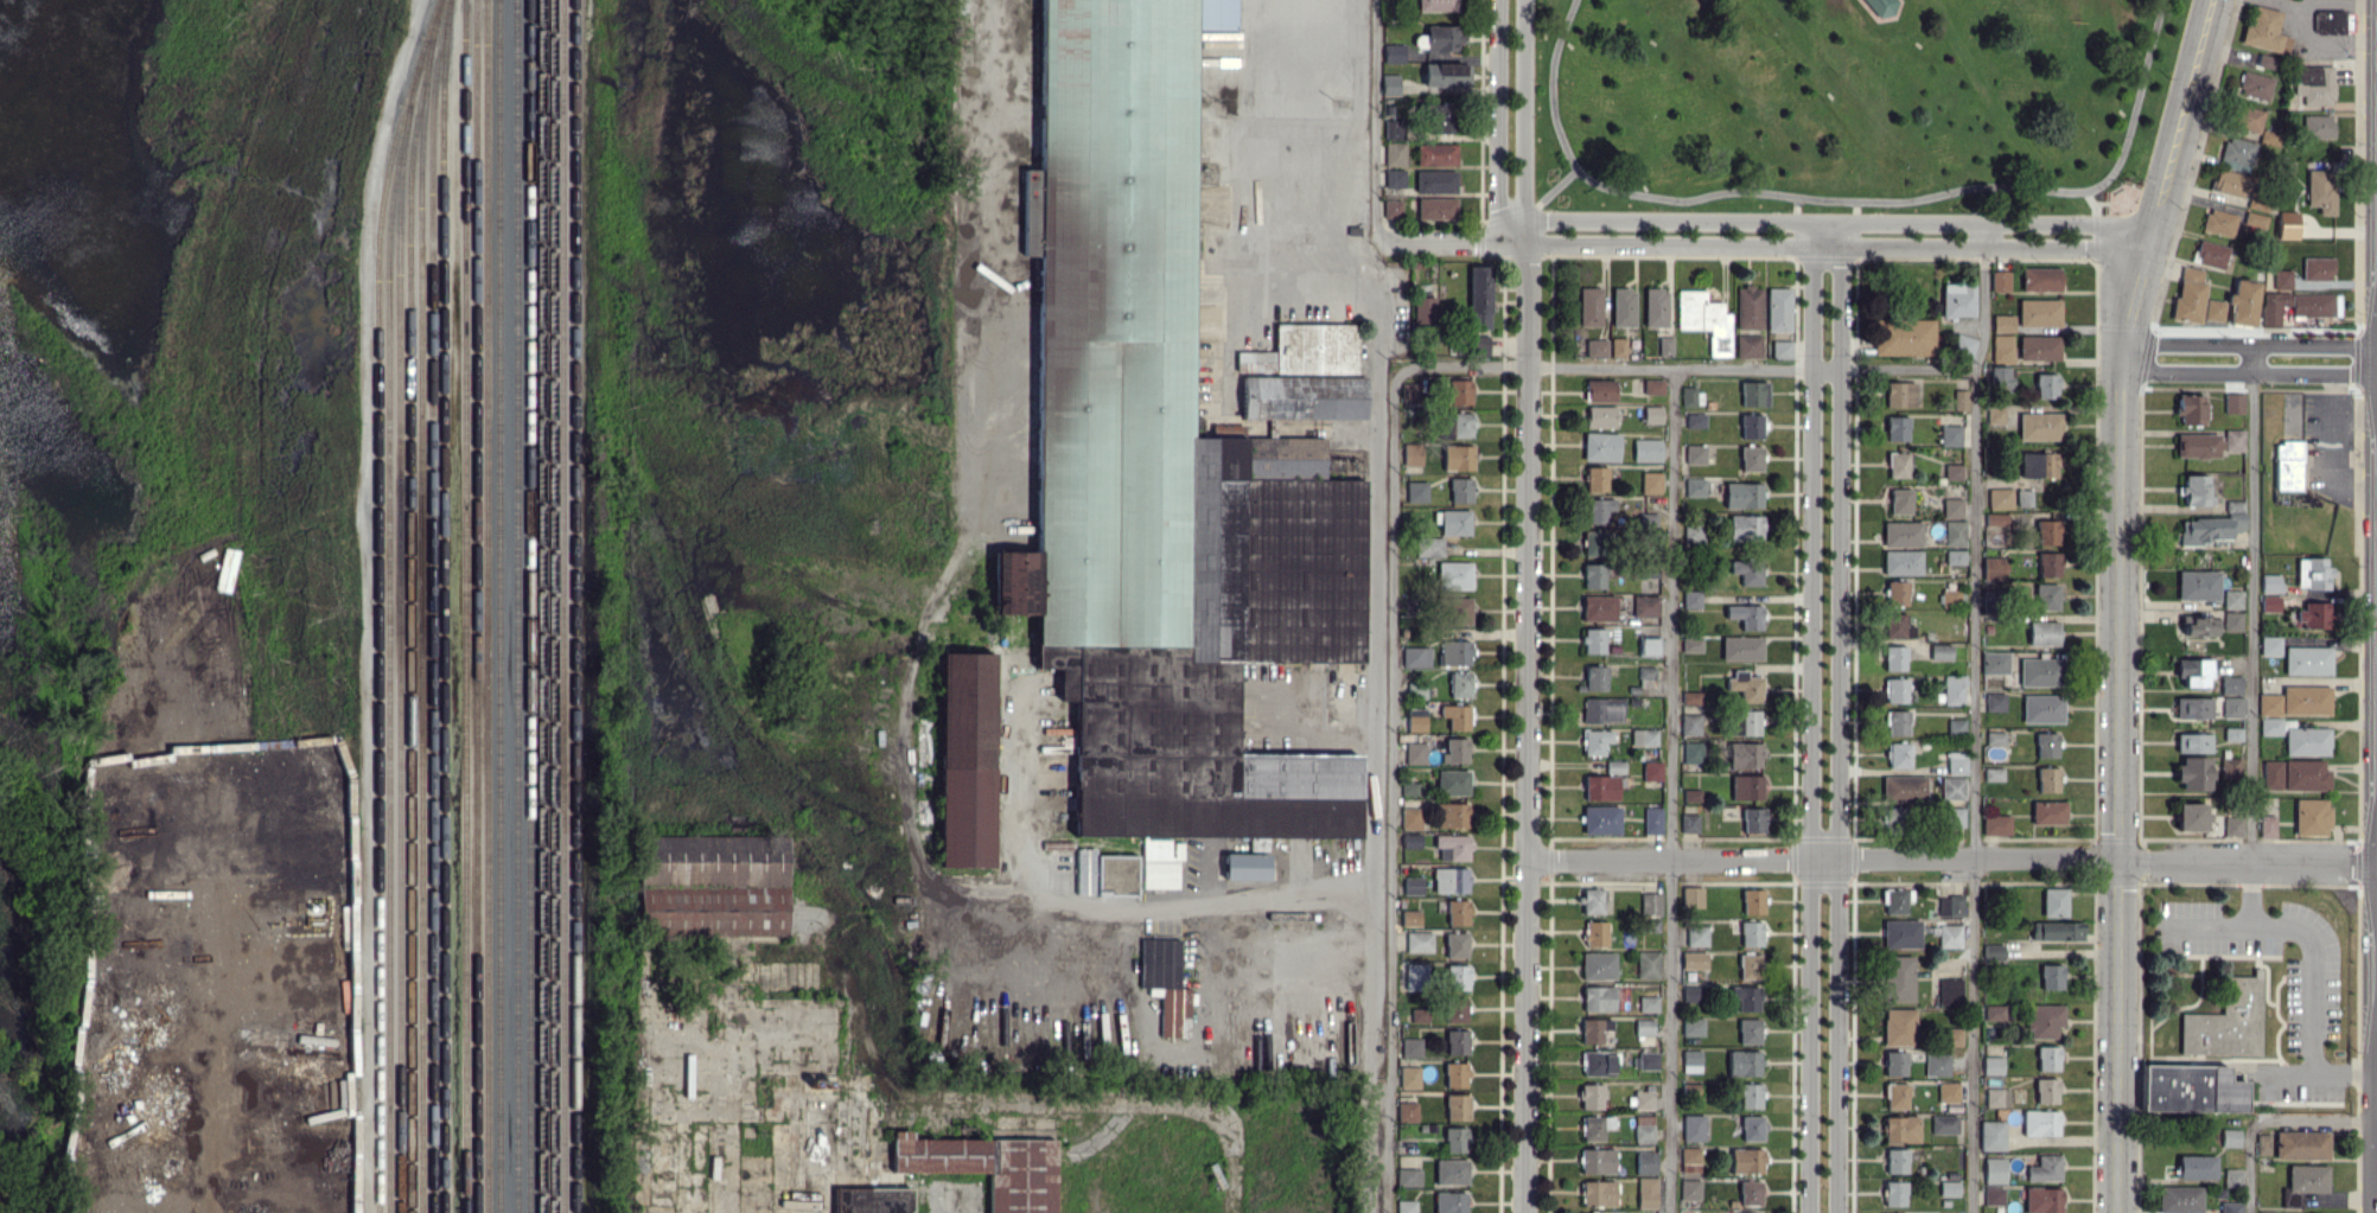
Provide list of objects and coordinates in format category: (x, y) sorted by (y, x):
road: (2326, 4)
building: (1436, 5)
building: (1882, 6)
railway: (432, 19)
railway: (434, 19)
building: (2332, 21)
building: (2264, 31)
building: (1442, 37)
road: (2324, 37)
building: (1393, 53)
building: (2266, 60)
building: (1446, 74)
building: (1389, 84)
building: (2315, 84)
building: (2255, 85)
park: (1853, 102)
road: (2136, 102)
road: (1555, 110)
building: (1440, 117)
road: (1524, 117)
building: (2247, 117)
road: (1498, 119)
road: (1376, 120)
building: (2318, 126)
building: (1394, 129)
building: (2268, 136)
building: (2236, 153)
building: (1394, 154)
building: (1435, 154)
building: (1394, 178)
building: (1435, 181)
building: (2229, 183)
flagpole: (2121, 185)
road: (2165, 186)
flagpole: (2115, 187)
flagpole: (2109, 190)
building: (2320, 190)
road: (1827, 196)
road: (2091, 200)
building: (1391, 208)
building: (1435, 208)
building: (2255, 219)
building: (2218, 222)
building: (2287, 224)
road: (1764, 234)
road: (994, 244)
building: (2317, 268)
building: (2040, 279)
building: (1999, 280)
building: (2277, 280)
building: (2188, 294)
building: (1478, 295)
building: (1957, 300)
building: (2243, 302)
building: (2315, 304)
building: (1588, 306)
building: (2274, 306)
building: (1623, 307)
building: (1655, 307)
building: (1748, 307)
building: (1778, 308)
building: (1423, 309)
building: (2213, 309)
building: (2038, 312)
building: (1703, 319)
building: (2002, 323)
building: (1903, 337)
building: (1474, 344)
building: (1963, 344)
building: (1747, 345)
road: (2249, 345)
building: (1617, 346)
building: (1664, 346)
building: (1595, 347)
building: (2001, 347)
building: (2038, 347)
building: (1780, 349)
building: (1304, 350)
road: (1917, 368)
road: (1602, 369)
road: (2248, 374)
building: (1999, 376)
building: (1652, 385)
building: (2045, 385)
building: (1599, 390)
building: (1459, 391)
building: (1409, 394)
building: (1753, 394)
building: (1899, 394)
building: (1688, 396)
building: (1302, 397)
building: (1959, 398)
building: (2233, 402)
building: (2190, 409)
building: (1652, 414)
building: (1994, 415)
building: (1599, 416)
building: (1694, 420)
building: (1750, 426)
building: (2039, 426)
building: (1895, 428)
building: (1950, 435)
building: (2233, 439)
road: (1370, 441)
building: (2197, 445)
building: (1600, 446)
building: (1646, 449)
building: (1411, 453)
building: (1695, 454)
building: (1457, 457)
building: (1750, 458)
building: (2037, 464)
building: (1897, 465)
building: (2287, 465)
building: (1954, 471)
building: (1161, 474)
building: (1595, 478)
building: (1650, 481)
building: (1694, 486)
building: (1459, 490)
building: (1415, 491)
building: (2194, 491)
building: (1742, 494)
building: (2022, 497)
building: (2000, 498)
building: (1900, 500)
building: (1951, 507)
building: (1597, 509)
building: (1646, 518)
building: (1995, 519)
building: (1453, 522)
building: (2212, 525)
building: (1745, 528)
building: (2047, 530)
building: (1954, 532)
building: (1691, 534)
building: (1901, 534)
building: (1594, 543)
building: (1428, 545)
building: (1955, 556)
building: (1900, 562)
building: (2047, 563)
building: (1993, 568)
building: (1746, 570)
building: (2312, 573)
building: (1453, 575)
building: (1593, 575)
building: (2270, 582)
building: (2197, 585)
building: (1895, 593)
building: (2046, 596)
building: (1690, 599)
building: (2232, 599)
building: (2269, 604)
railway: (431, 605)
building: (1645, 605)
railway: (444, 606)
railway: (464, 606)
railway: (476, 606)
railway: (486, 606)
railway: (498, 606)
railway: (516, 606)
railway: (528, 606)
railway: (541, 606)
railway: (550, 606)
railway: (563, 606)
railway: (574, 606)
building: (1598, 608)
road: (2251, 608)
building: (1457, 611)
building: (1745, 615)
building: (2313, 617)
building: (2231, 620)
railway: (377, 623)
railway: (400, 624)
railway: (410, 625)
railway: (421, 625)
building: (2197, 625)
building: (1895, 626)
building: (2043, 633)
building: (1593, 640)
building: (1691, 644)
building: (1649, 645)
building: (2269, 645)
building: (1741, 647)
building: (1939, 651)
building: (1454, 652)
building: (1415, 656)
railway: (388, 657)
building: (1893, 657)
building: (2307, 660)
building: (1994, 662)
building: (2039, 671)
building: (2192, 671)
building: (1645, 676)
building: (1459, 684)
building: (2231, 684)
building: (1745, 685)
building: (1952, 689)
building: (1894, 690)
building: (1690, 697)
building: (2305, 700)
building: (1994, 702)
building: (2268, 704)
building: (2231, 707)
building: (2041, 708)
building: (2192, 708)
building: (1601, 709)
building: (1455, 715)
building: (1415, 719)
building: (1689, 720)
road: (1315, 721)
building: (1748, 722)
building: (1895, 722)
road: (1523, 723)
road: (1805, 723)
road: (1844, 723)
road: (1984, 723)
building: (1956, 726)
building: (2269, 726)
building: (2232, 733)
building: (1643, 736)
building: (1994, 736)
building: (1054, 739)
building: (2305, 740)
building: (1594, 741)
building: (2192, 742)
building: (2045, 745)
building: (1454, 749)
building: (1414, 752)
building: (1744, 754)
building: (1898, 755)
building: (1691, 756)
building: (964, 759)
building: (1956, 762)
building: (1614, 766)
building: (2229, 767)
building: (1651, 770)
building: (1993, 773)
building: (2193, 773)
building: (2271, 774)
building: (2305, 775)
building: (2047, 779)
building: (1452, 783)
building: (1600, 787)
building: (1745, 787)
building: (1903, 787)
building: (1951, 787)
building: (1409, 789)
road: (1671, 790)
road: (1394, 791)
road: (2116, 792)
building: (1691, 794)
building: (2047, 812)
building: (1449, 815)
building: (2311, 816)
building: (1954, 817)
building: (2190, 817)
building: (1410, 818)
building: (1893, 818)
building: (1600, 819)
building: (1651, 819)
building: (1752, 819)
building: (1689, 823)
building: (1995, 824)
building: (2232, 826)
building: (2267, 826)
building: (1410, 839)
building: (1452, 847)
road: (1949, 866)
building: (1244, 867)
building: (1104, 873)
building: (1449, 880)
building: (1413, 885)
building: (712, 886)
building: (1691, 896)
road: (1264, 898)
road: (2248, 899)
building: (1592, 901)
building: (1752, 901)
building: (1893, 901)
building: (2053, 901)
building: (1650, 904)
building: (1949, 906)
building: (1457, 912)
building: (1410, 918)
building: (2059, 931)
building: (1594, 933)
building: (1750, 933)
building: (1900, 933)
building: (1696, 936)
building: (1949, 936)
road: (2308, 939)
building: (1419, 941)
building: (1455, 944)
building: (1992, 952)
building: (1693, 960)
building: (1648, 964)
building: (1597, 965)
building: (1748, 966)
building: (1415, 976)
building: (2051, 976)
building: (1457, 977)
building: (1898, 978)
building: (1165, 984)
building: (1949, 990)
building: (1690, 994)
building: (1598, 998)
building: (1745, 998)
building: (1648, 1003)
building: (1455, 1009)
building: (1994, 1013)
building: (1419, 1015)
building: (2044, 1021)
building: (2226, 1021)
building: (1644, 1027)
building: (1691, 1027)
building: (1898, 1027)
building: (1593, 1030)
building: (1748, 1030)
building: (1950, 1036)
building: (1457, 1042)
building: (1410, 1047)
building: (2047, 1058)
building: (1648, 1060)
building: (1690, 1061)
building: (1597, 1062)
building: (1742, 1062)
building: (1894, 1062)
building: (1936, 1065)
building: (1992, 1065)
building: (1454, 1074)
building: (1408, 1077)
road: (2322, 1080)
building: (2045, 1090)
building: (2190, 1090)
building: (1948, 1092)
building: (1591, 1096)
building: (1750, 1096)
building: (1895, 1096)
building: (1996, 1097)
building: (1643, 1098)
building: (1457, 1106)
building: (1407, 1111)
building: (1643, 1118)
building: (2040, 1123)
building: (1943, 1124)
building: (1594, 1126)
building: (1693, 1128)
building: (1751, 1128)
road: (2271, 1128)
building: (1900, 1129)
building: (1643, 1134)
building: (1992, 1135)
building: (2230, 1137)
building: (1454, 1138)
building: (2262, 1143)
building: (2301, 1145)
building: (1690, 1158)
building: (1746, 1160)
building: (1895, 1160)
building: (1595, 1161)
building: (1645, 1162)
building: (984, 1167)
building: (2197, 1167)
building: (2044, 1169)
building: (1994, 1170)
building: (1451, 1171)
building: (1408, 1176)
building: (2232, 1176)
building: (2307, 1177)
building: (1949, 1188)
building: (1689, 1189)
building: (1646, 1192)
building: (1598, 1193)
building: (1750, 1193)
building: (1894, 1193)
building: (1993, 1195)
building: (2179, 1199)
building: (871, 1200)
building: (2043, 1200)
building: (1449, 1201)
building: (1406, 1206)
building: (2230, 1207)
building: (1735, 1212)
building: (2261, 1212)

